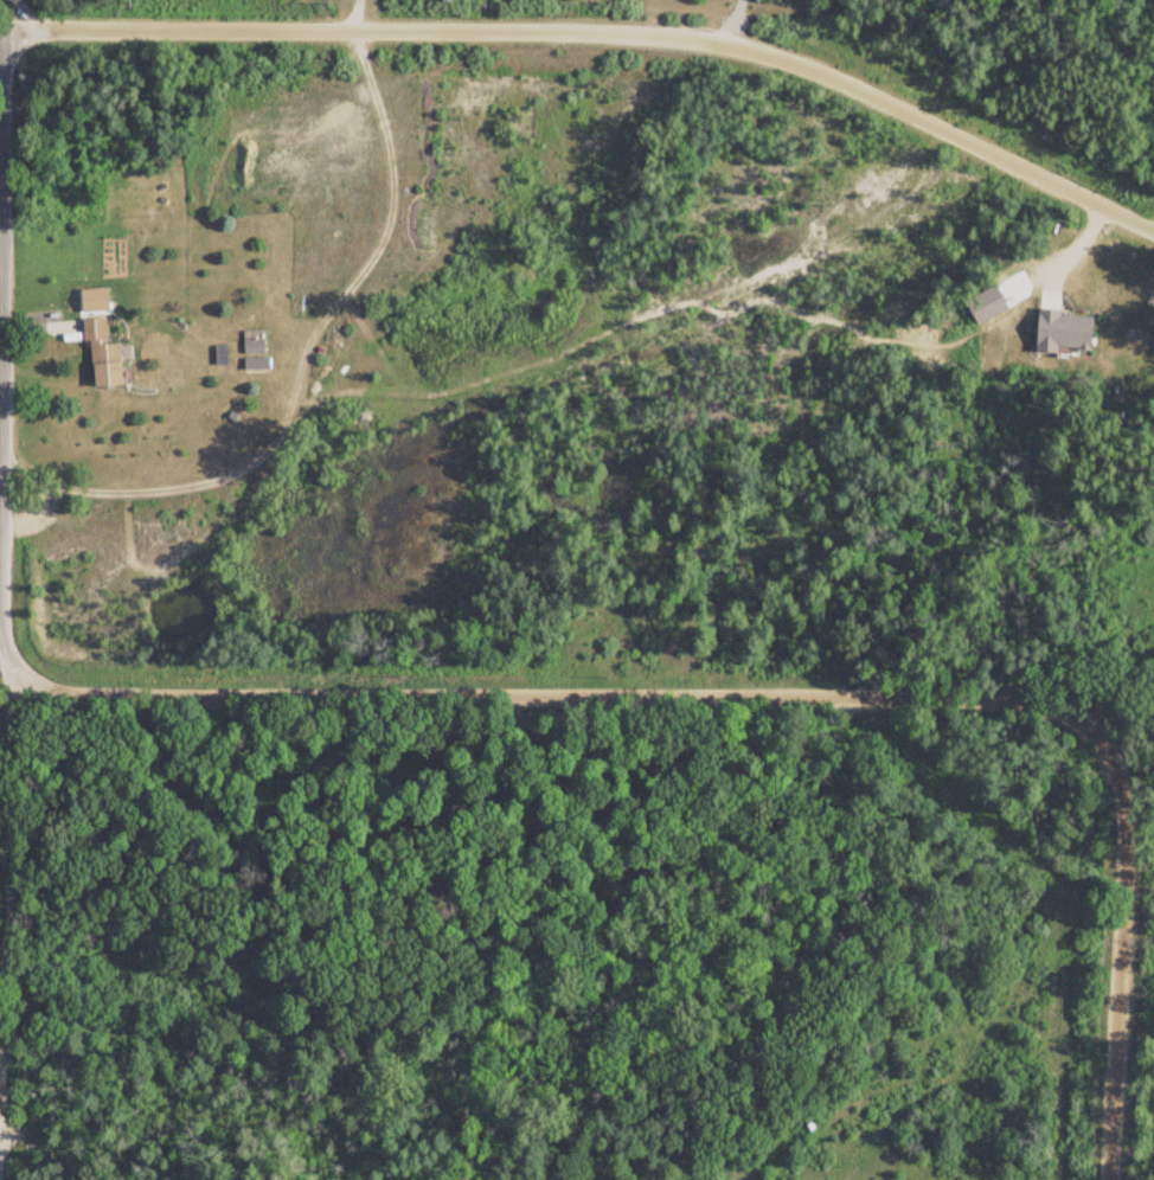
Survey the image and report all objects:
road: (351, 15)
road: (730, 21)
road: (597, 33)
building: (254, 348)
building: (101, 358)
road: (300, 370)
road: (5, 654)
road: (8, 686)
road: (552, 698)
road: (5, 908)
road: (1120, 949)
road: (5, 1076)

